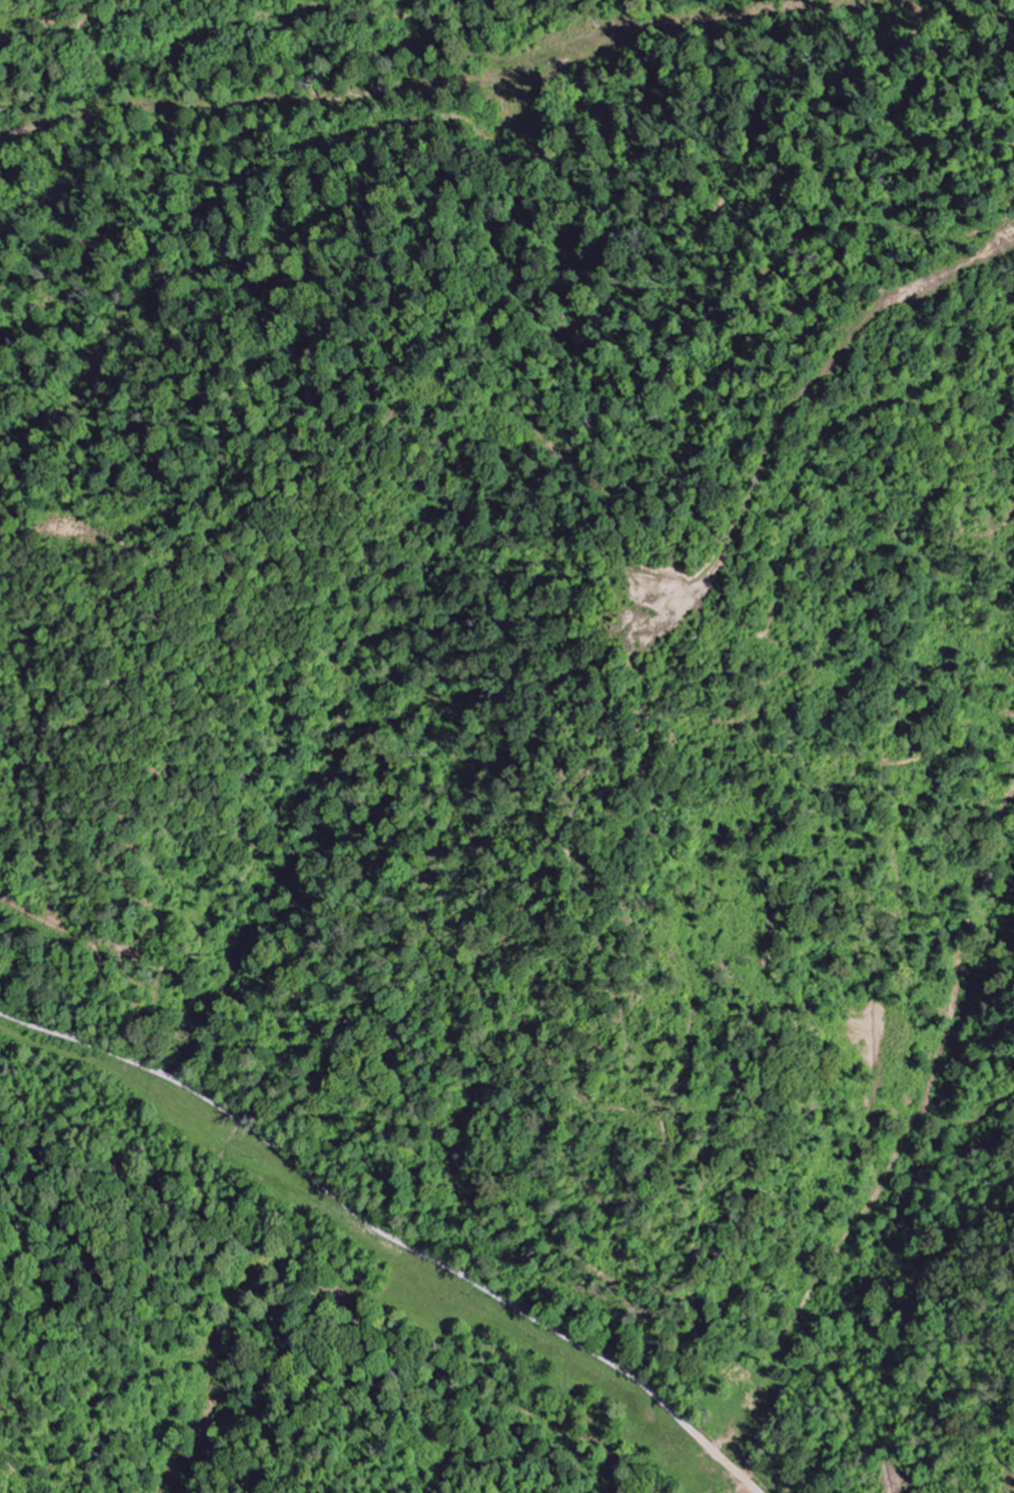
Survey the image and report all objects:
road: (393, 1220)

